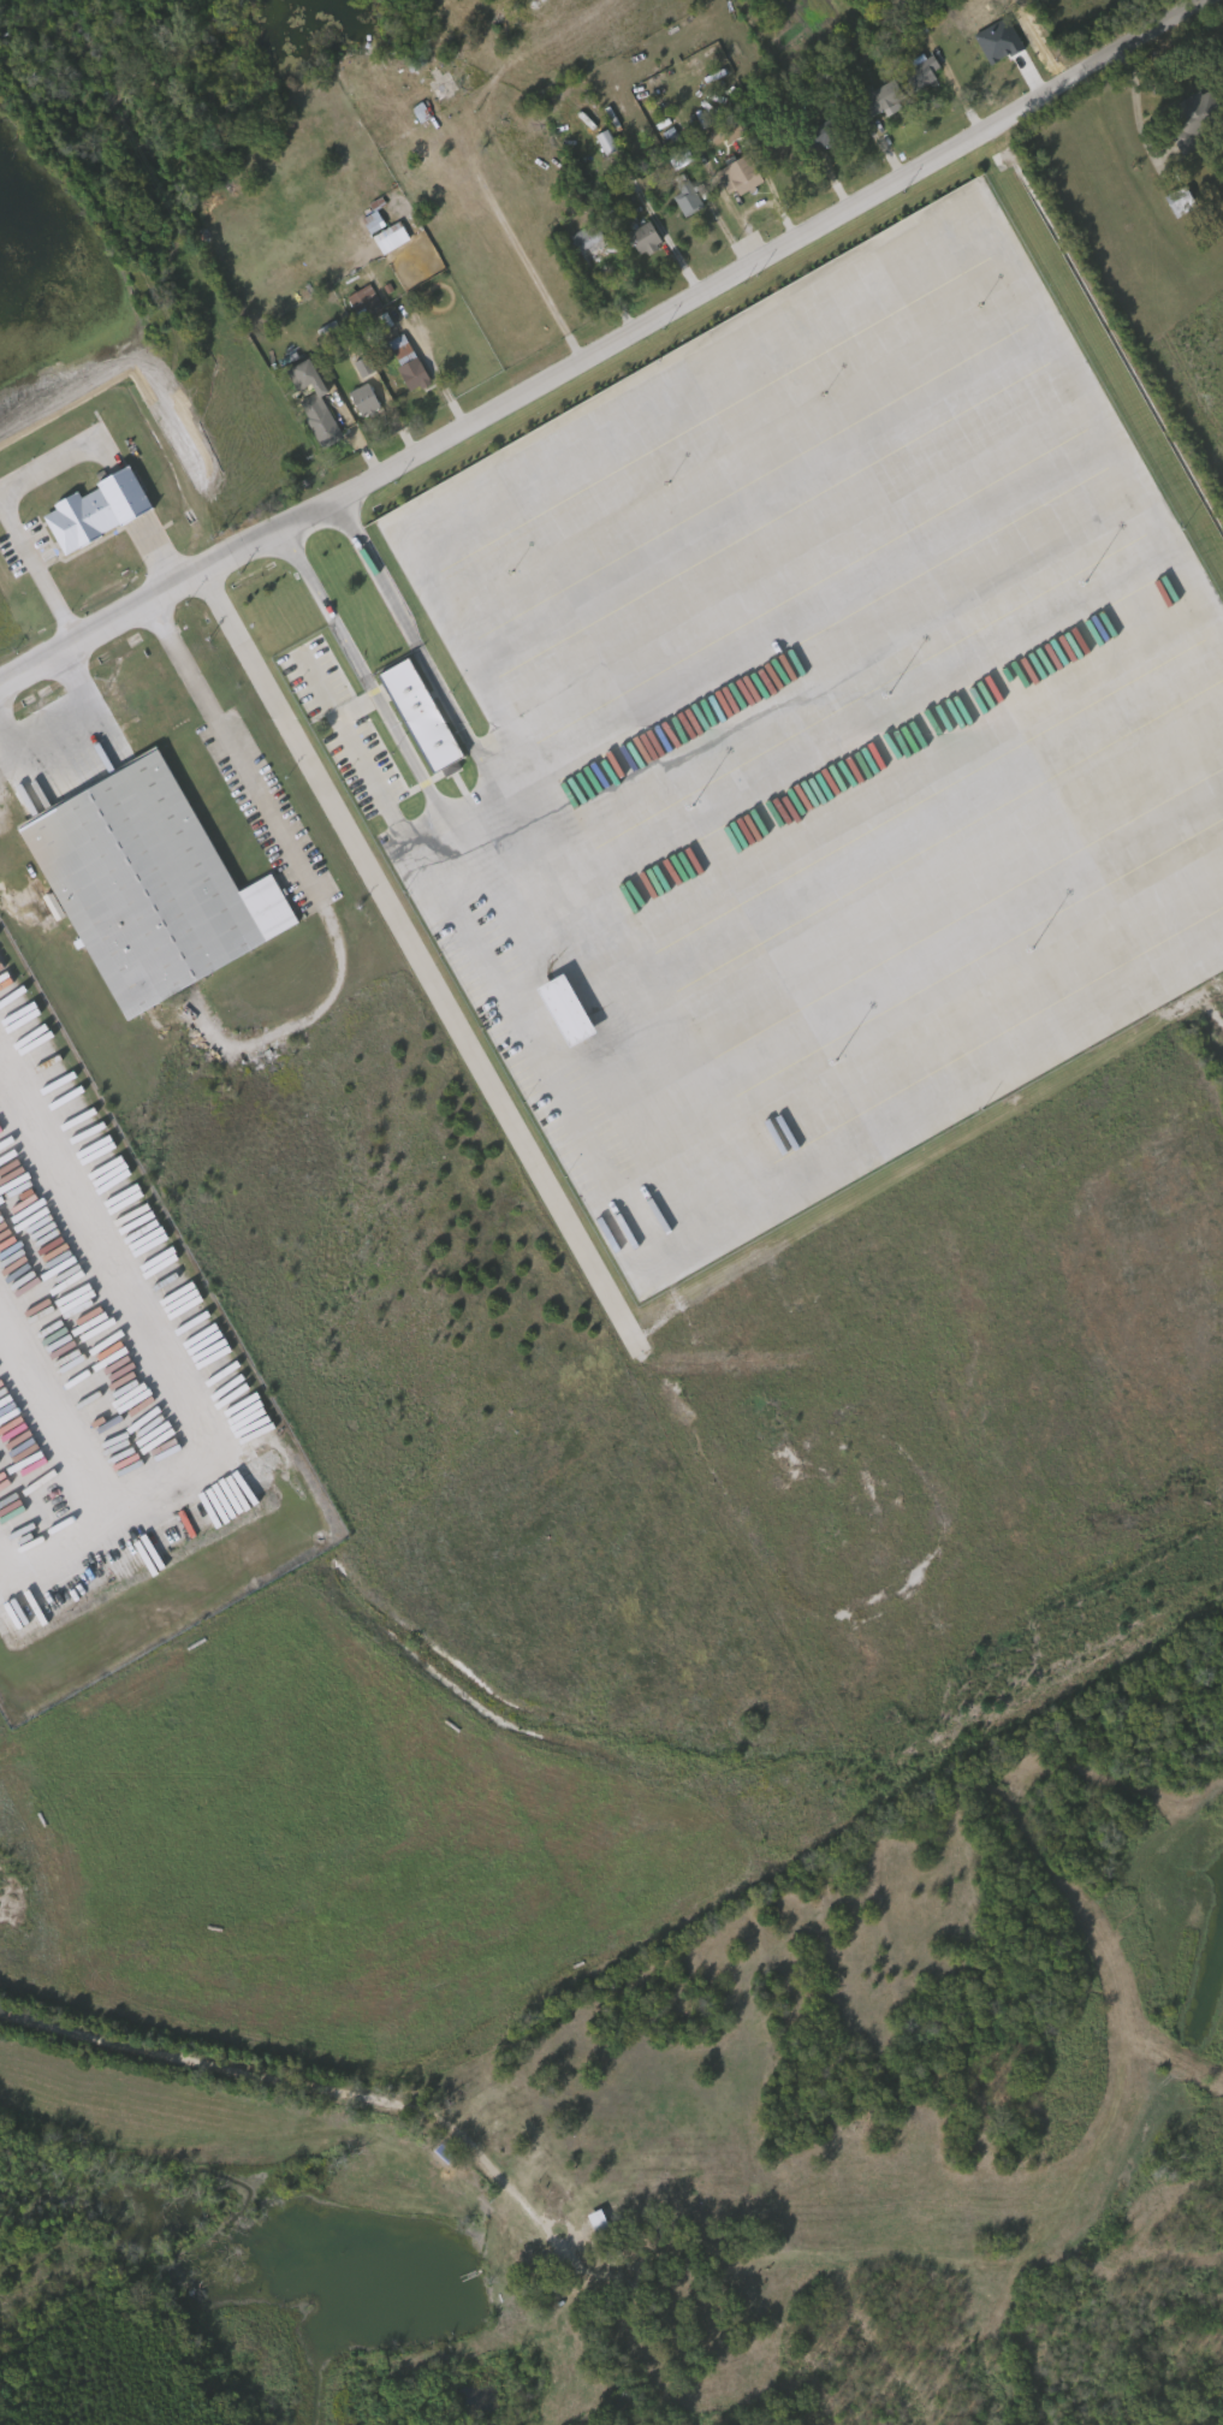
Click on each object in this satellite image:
building: (924, 71)
building: (881, 99)
building: (1193, 115)
building: (728, 134)
building: (608, 143)
building: (682, 158)
building: (742, 177)
building: (688, 194)
building: (681, 201)
building: (1182, 202)
road: (658, 227)
road: (510, 237)
building: (647, 238)
building: (592, 242)
building: (364, 302)
road: (785, 336)
road: (416, 345)
road: (608, 345)
building: (410, 363)
building: (357, 366)
building: (367, 402)
building: (316, 403)
road: (109, 467)
building: (97, 510)
road: (38, 582)
building: (421, 715)
road: (75, 733)
road: (227, 754)
building: (445, 767)
road: (476, 819)
building: (149, 885)
road: (420, 964)
building: (559, 1008)
road: (737, 1214)
road: (162, 1366)
road: (225, 2062)
road: (509, 2195)
building: (599, 2230)

